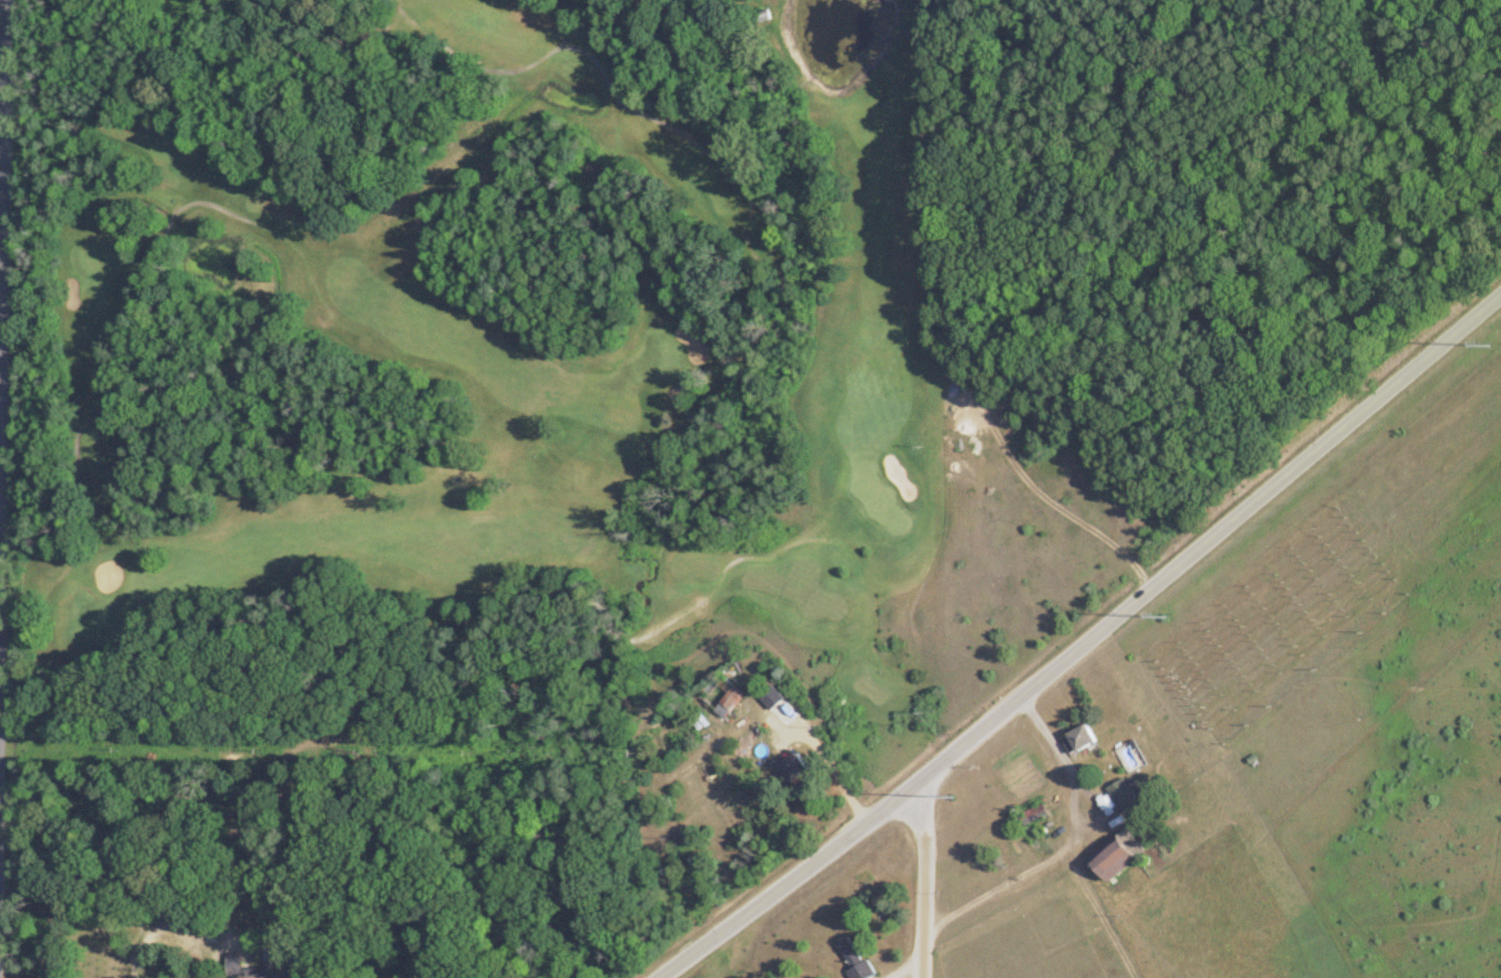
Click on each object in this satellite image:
road: (0, 55)
power tower: (1486, 343)
park: (477, 369)
road: (1058, 502)
power tower: (1165, 615)
road: (1086, 637)
building: (768, 698)
building: (1077, 739)
road: (826, 758)
building: (789, 769)
building: (1123, 794)
road: (1076, 837)
building: (1102, 859)
road: (922, 877)
building: (850, 958)

